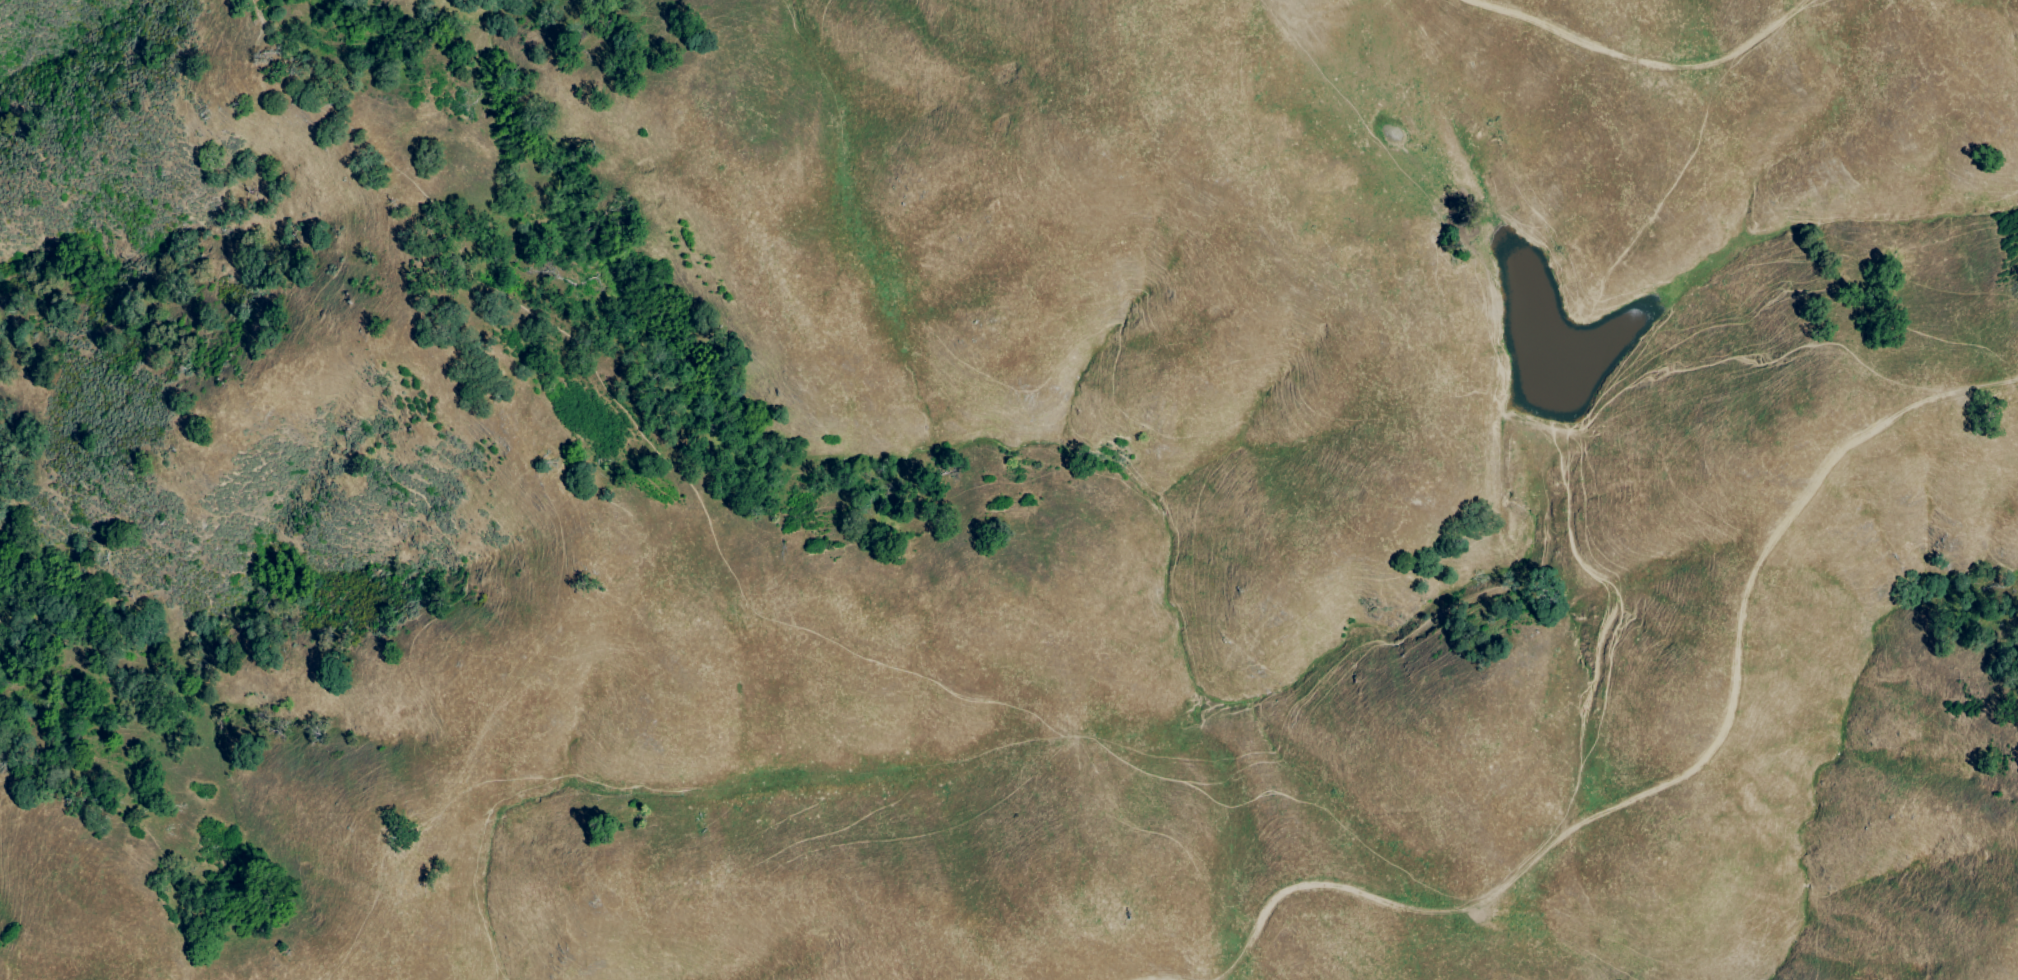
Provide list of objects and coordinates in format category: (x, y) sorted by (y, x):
road: (1645, 62)
road: (1684, 774)

